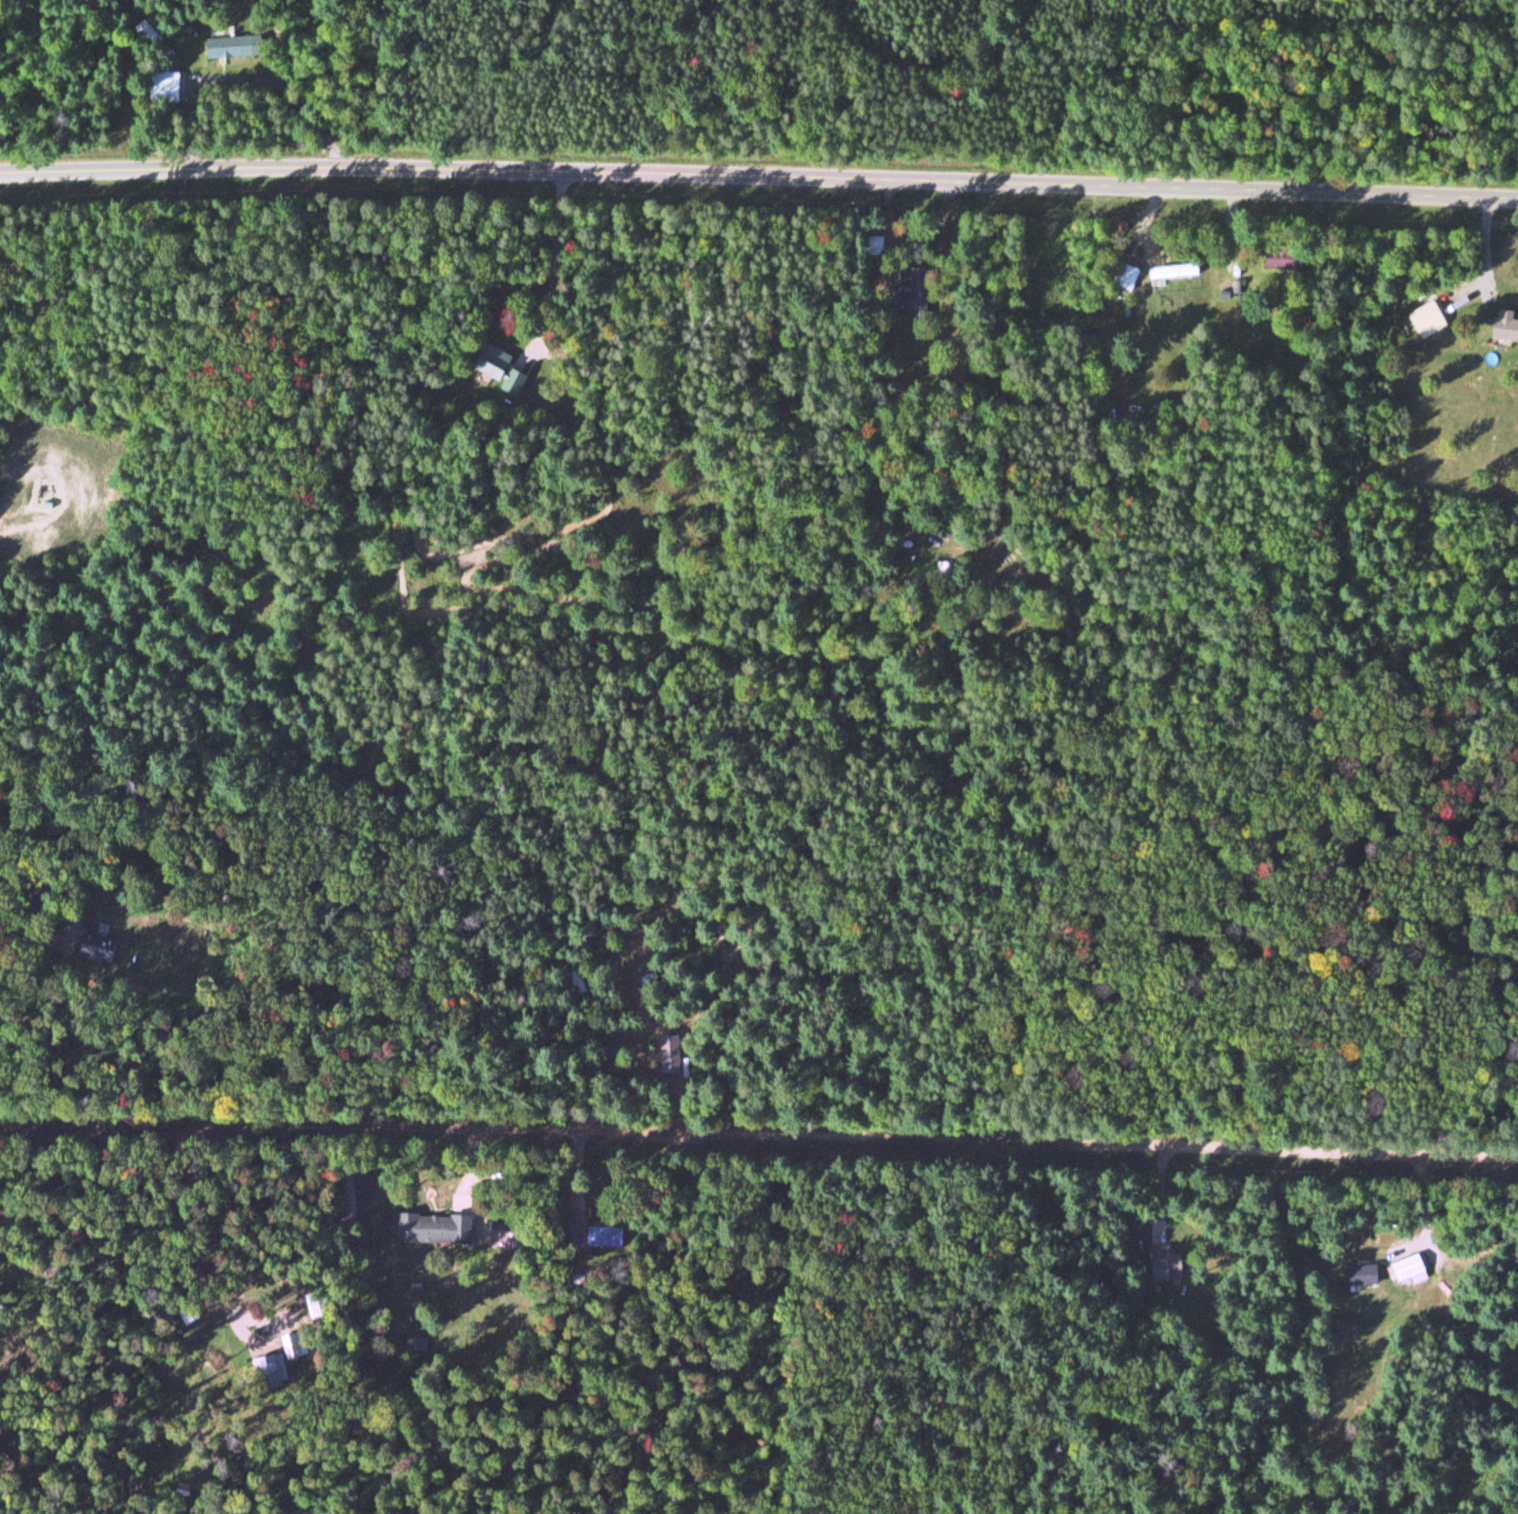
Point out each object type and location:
building: (149, 35)
building: (225, 48)
building: (167, 87)
road: (759, 181)
building: (874, 244)
building: (1282, 259)
building: (1173, 272)
building: (1122, 276)
building: (910, 294)
building: (1426, 320)
building: (1504, 326)
building: (497, 368)
building: (75, 921)
building: (88, 942)
building: (577, 982)
building: (668, 1057)
road: (759, 1137)
building: (433, 1228)
building: (604, 1236)
building: (1164, 1263)
building: (1409, 1269)
building: (1362, 1274)
building: (188, 1313)
building: (183, 1343)
building: (417, 1347)
building: (267, 1369)

